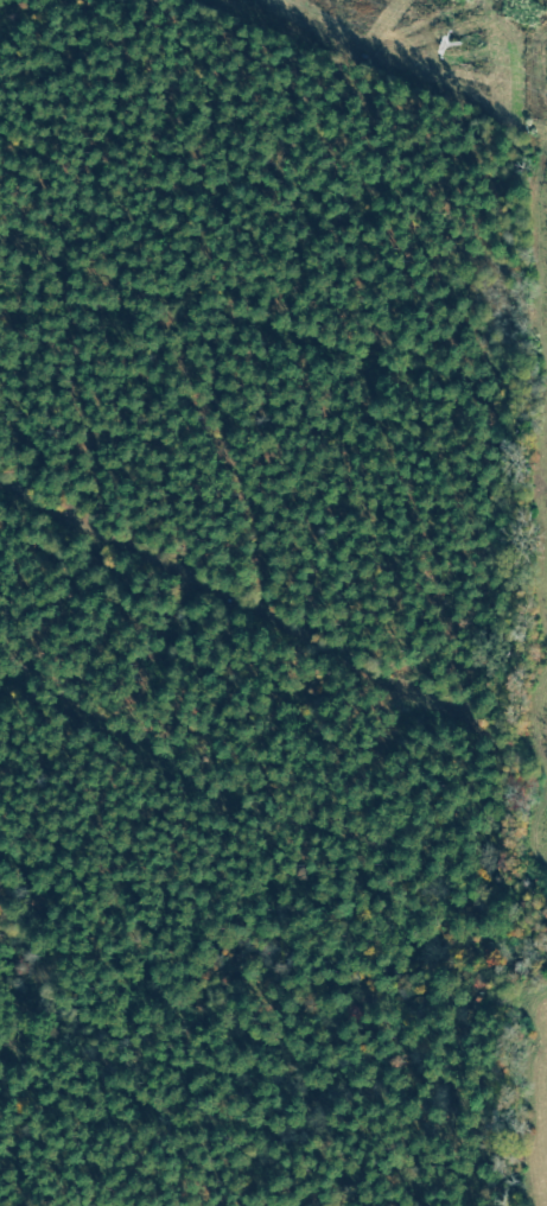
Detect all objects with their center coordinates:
power tower: (457, 44)
road: (541, 101)

